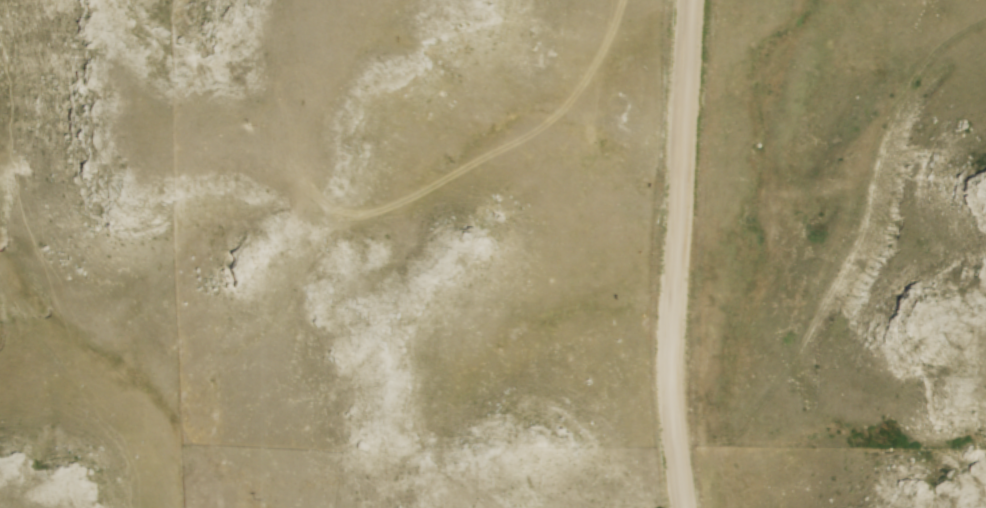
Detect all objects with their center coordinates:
road: (669, 254)

